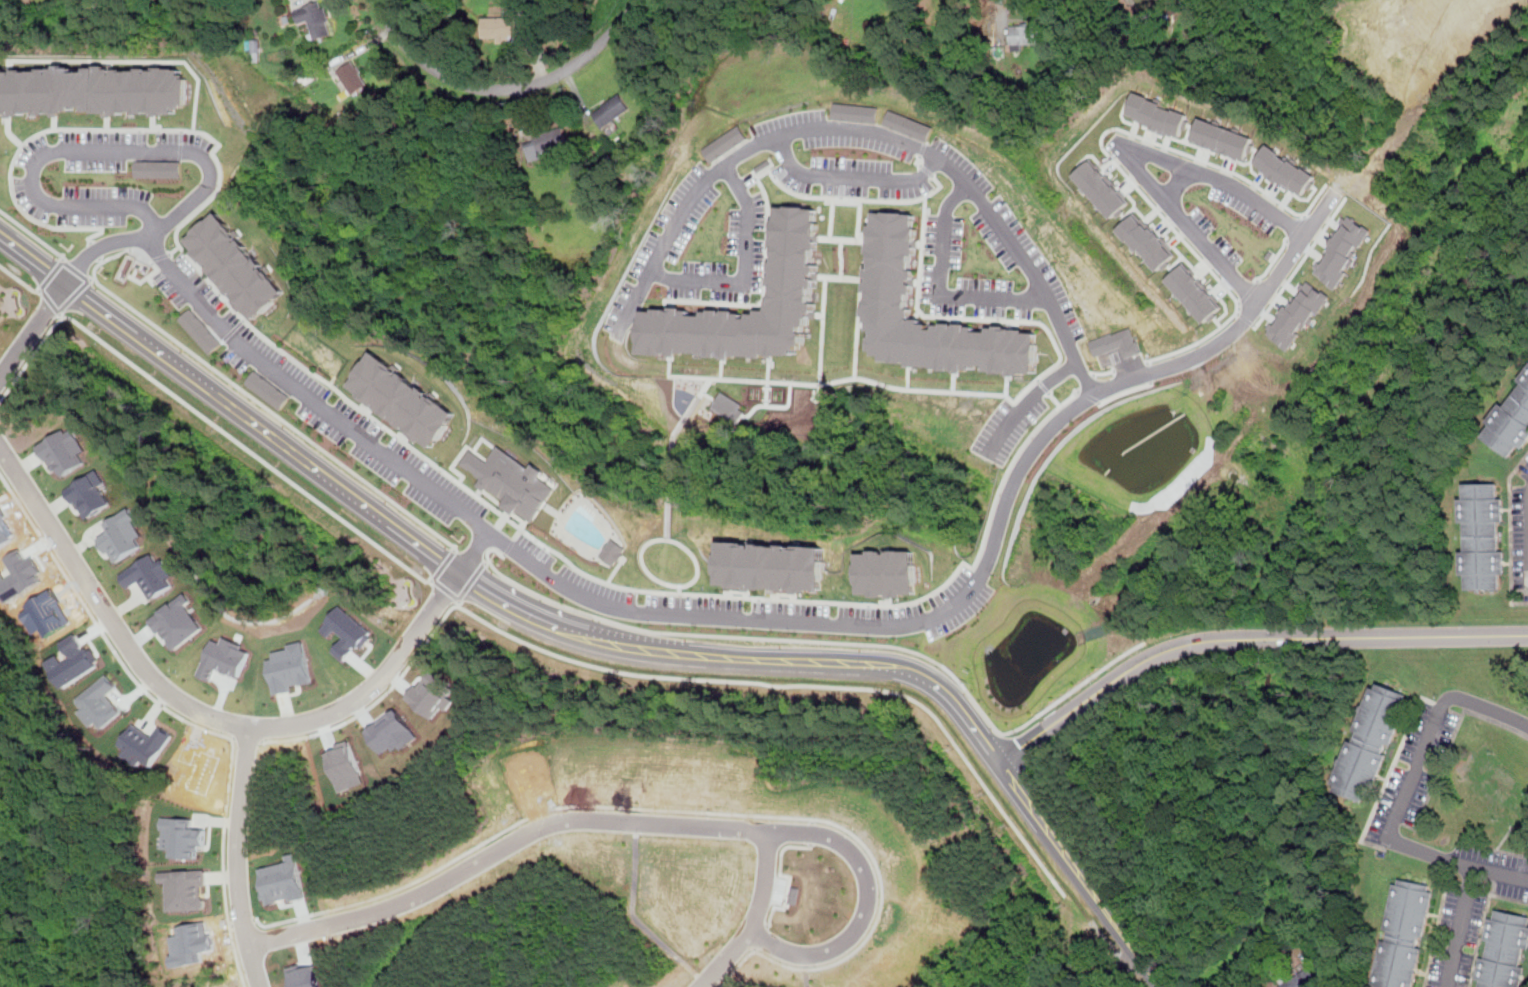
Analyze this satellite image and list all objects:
road: (1000, 7)
building: (315, 18)
building: (508, 25)
building: (1025, 35)
building: (352, 76)
road: (506, 87)
building: (94, 90)
road: (1429, 93)
building: (611, 110)
building: (855, 111)
building: (1155, 113)
building: (908, 124)
road: (867, 130)
building: (1222, 137)
building: (546, 141)
building: (725, 144)
building: (160, 167)
building: (1284, 169)
road: (851, 177)
road: (1219, 179)
road: (1176, 182)
building: (1101, 188)
road: (1184, 223)
road: (33, 233)
building: (1146, 241)
building: (1343, 250)
building: (237, 263)
road: (745, 267)
road: (76, 270)
road: (49, 271)
building: (794, 274)
road: (16, 276)
road: (92, 277)
road: (940, 289)
building: (1193, 292)
road: (80, 298)
road: (48, 299)
building: (891, 299)
building: (1299, 313)
road: (33, 329)
building: (200, 329)
road: (255, 336)
building: (1118, 342)
building: (268, 388)
building: (403, 396)
road: (1027, 400)
building: (728, 406)
road: (273, 412)
building: (1512, 424)
road: (248, 448)
building: (66, 452)
building: (510, 479)
building: (92, 494)
building: (1, 512)
road: (1511, 532)
building: (1485, 533)
building: (4, 534)
building: (123, 537)
building: (614, 550)
road: (473, 554)
road: (519, 554)
road: (439, 559)
road: (486, 560)
road: (443, 566)
building: (771, 568)
building: (151, 573)
building: (887, 574)
building: (19, 575)
road: (471, 580)
road: (445, 592)
road: (460, 604)
building: (46, 613)
building: (177, 620)
building: (346, 632)
road: (1245, 636)
road: (838, 641)
building: (225, 658)
building: (76, 663)
building: (292, 668)
road: (798, 684)
building: (429, 693)
building: (100, 700)
road: (197, 715)
road: (976, 729)
building: (389, 730)
building: (1372, 741)
building: (145, 743)
building: (341, 764)
building: (581, 768)
building: (199, 769)
building: (631, 769)
building: (691, 771)
building: (286, 778)
park: (1495, 784)
road: (1405, 793)
road: (644, 825)
building: (184, 838)
road: (241, 861)
road: (1080, 873)
building: (283, 878)
building: (188, 889)
parking lot: (781, 889)
building: (794, 893)
road: (760, 917)
road: (1456, 926)
building: (1406, 937)
building: (189, 942)
building: (1505, 950)
road: (1091, 972)
building: (304, 977)
building: (1304, 979)
building: (204, 980)
building: (752, 982)

